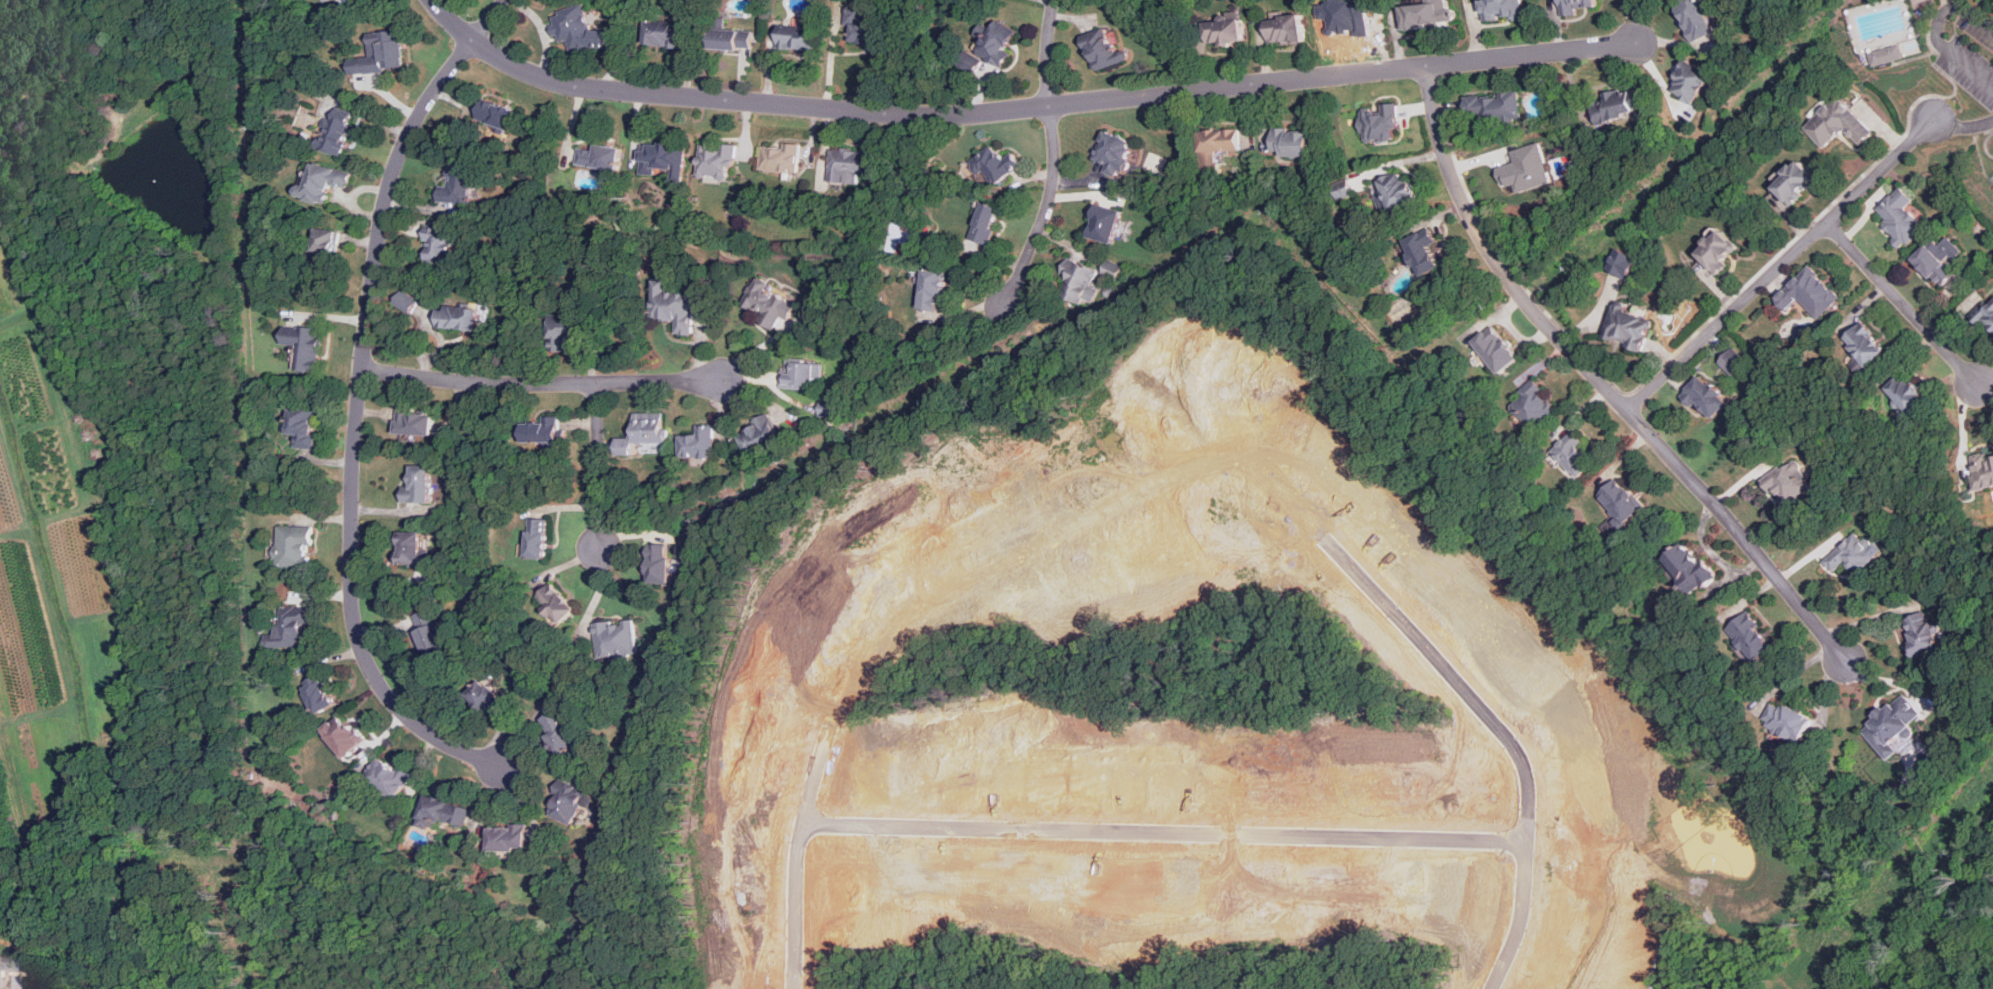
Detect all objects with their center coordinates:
building: (328, 0)
building: (1574, 5)
building: (1502, 9)
building: (1427, 14)
building: (1695, 19)
building: (864, 28)
building: (577, 30)
building: (1284, 30)
building: (1223, 31)
building: (662, 34)
road: (1940, 35)
building: (796, 37)
road: (1898, 37)
building: (994, 38)
building: (731, 39)
building: (393, 50)
building: (1104, 50)
building: (1885, 55)
building: (1689, 82)
road: (1449, 105)
building: (1616, 105)
building: (1494, 107)
road: (1023, 108)
building: (495, 114)
building: (1379, 123)
building: (1837, 123)
road: (1882, 125)
road: (1962, 126)
building: (337, 133)
building: (1218, 140)
building: (1291, 143)
building: (1111, 153)
road: (1053, 154)
building: (599, 157)
building: (780, 157)
building: (664, 159)
building: (716, 161)
road: (1480, 161)
building: (849, 165)
building: (994, 165)
building: (1526, 167)
park: (1991, 179)
building: (1796, 181)
building: (457, 182)
building: (327, 183)
building: (1396, 191)
building: (1900, 216)
road: (1790, 218)
building: (984, 223)
building: (1102, 223)
building: (438, 245)
building: (327, 246)
building: (1421, 251)
building: (1718, 251)
building: (1939, 259)
building: (1623, 262)
road: (1779, 264)
building: (1112, 269)
building: (1080, 282)
road: (1715, 286)
building: (930, 289)
building: (1809, 293)
building: (406, 300)
road: (1903, 302)
building: (768, 303)
building: (674, 307)
road: (1595, 312)
building: (1986, 313)
building: (456, 318)
building: (1629, 326)
building: (560, 331)
road: (1692, 335)
building: (307, 345)
building: (1865, 346)
building: (1497, 348)
road: (1660, 352)
building: (1733, 361)
building: (800, 375)
road: (541, 382)
road: (1602, 382)
building: (1907, 395)
building: (1706, 396)
road: (356, 402)
building: (1533, 403)
building: (830, 409)
building: (413, 423)
building: (300, 426)
building: (539, 431)
building: (643, 435)
building: (759, 436)
building: (697, 443)
building: (1574, 453)
road: (598, 466)
building: (1983, 472)
road: (1192, 475)
building: (1791, 480)
building: (416, 485)
building: (1622, 502)
building: (535, 539)
building: (295, 545)
building: (412, 550)
building: (1854, 552)
building: (657, 564)
building: (1691, 566)
building: (554, 604)
road: (1866, 617)
building: (290, 627)
building: (1923, 633)
building: (429, 634)
building: (1751, 637)
building: (616, 639)
building: (319, 693)
building: (486, 698)
building: (1788, 720)
building: (1893, 725)
building: (557, 731)
building: (344, 734)
building: (389, 777)
building: (569, 800)
building: (443, 812)
road: (1174, 833)
building: (510, 836)
building: (0, 965)

